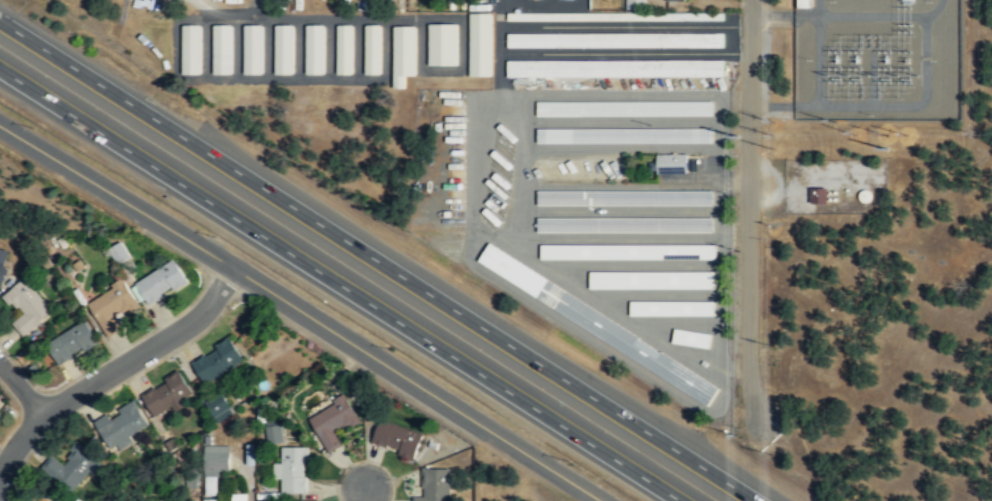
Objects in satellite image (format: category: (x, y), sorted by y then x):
building: (679, 0)
building: (633, 4)
building: (699, 16)
building: (613, 40)
building: (441, 44)
building: (479, 44)
building: (190, 48)
building: (221, 49)
building: (252, 49)
building: (282, 49)
building: (313, 49)
building: (343, 49)
building: (372, 49)
building: (402, 54)
power substation: (878, 58)
building: (613, 68)
building: (669, 163)
building: (817, 195)
building: (623, 197)
road: (749, 211)
building: (623, 224)
building: (118, 252)
road: (377, 261)
building: (3, 262)
building: (650, 280)
building: (161, 282)
road: (341, 284)
building: (27, 306)
building: (113, 307)
building: (670, 308)
road: (302, 310)
building: (72, 343)
road: (147, 349)
building: (217, 360)
road: (22, 387)
building: (167, 394)
building: (217, 407)
building: (0, 414)
building: (122, 424)
building: (332, 424)
building: (273, 431)
building: (396, 438)
road: (18, 442)
building: (216, 460)
building: (71, 468)
building: (292, 469)
building: (435, 484)
road: (363, 495)
building: (239, 497)
building: (209, 499)

